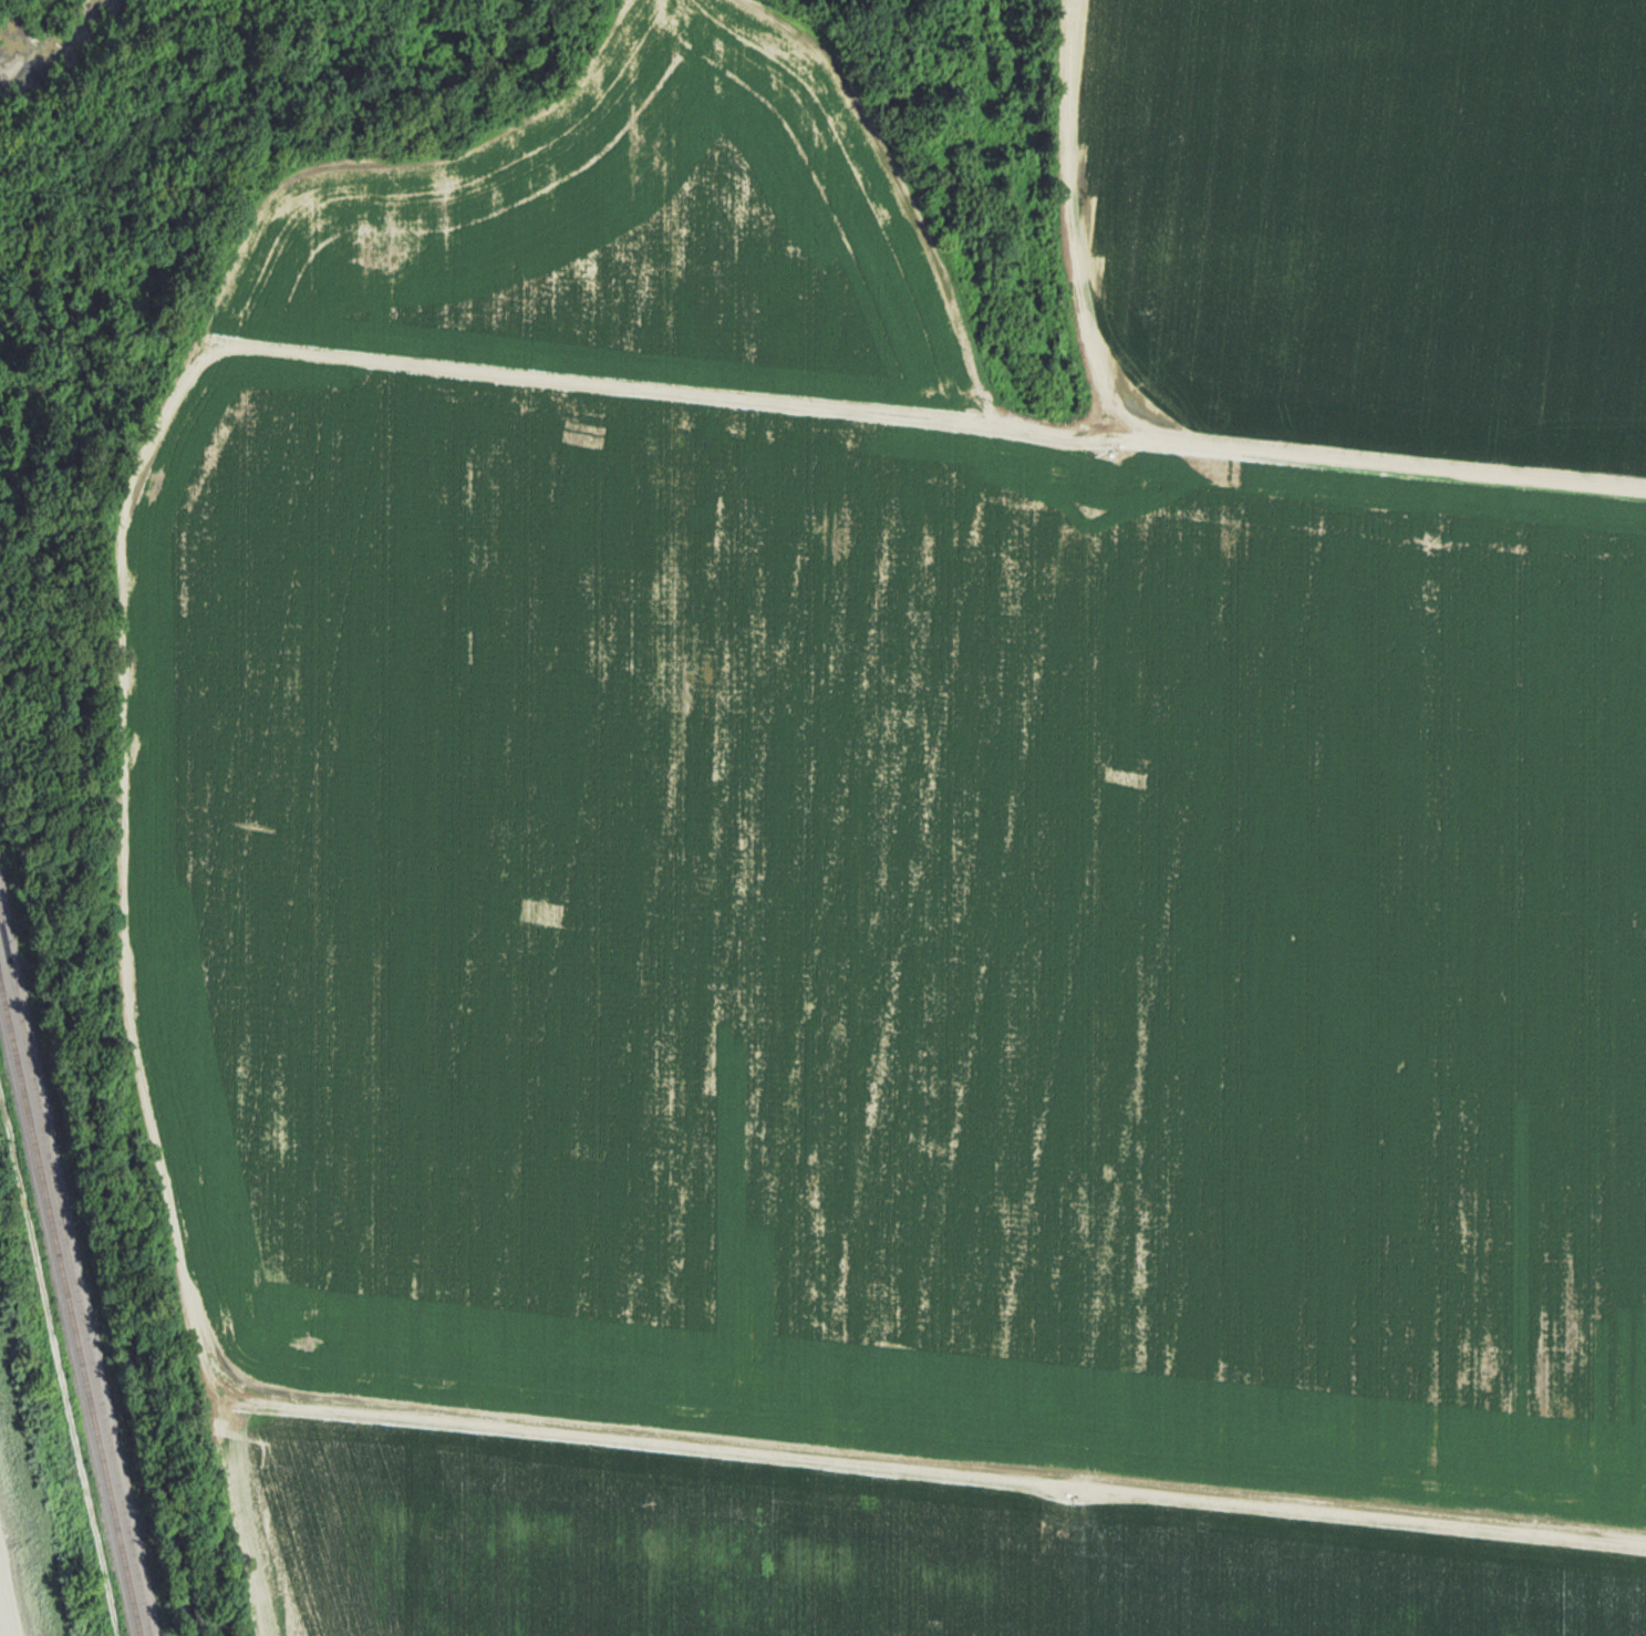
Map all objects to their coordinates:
railway: (74, 1278)
railway: (71, 1307)
road: (6, 1608)

